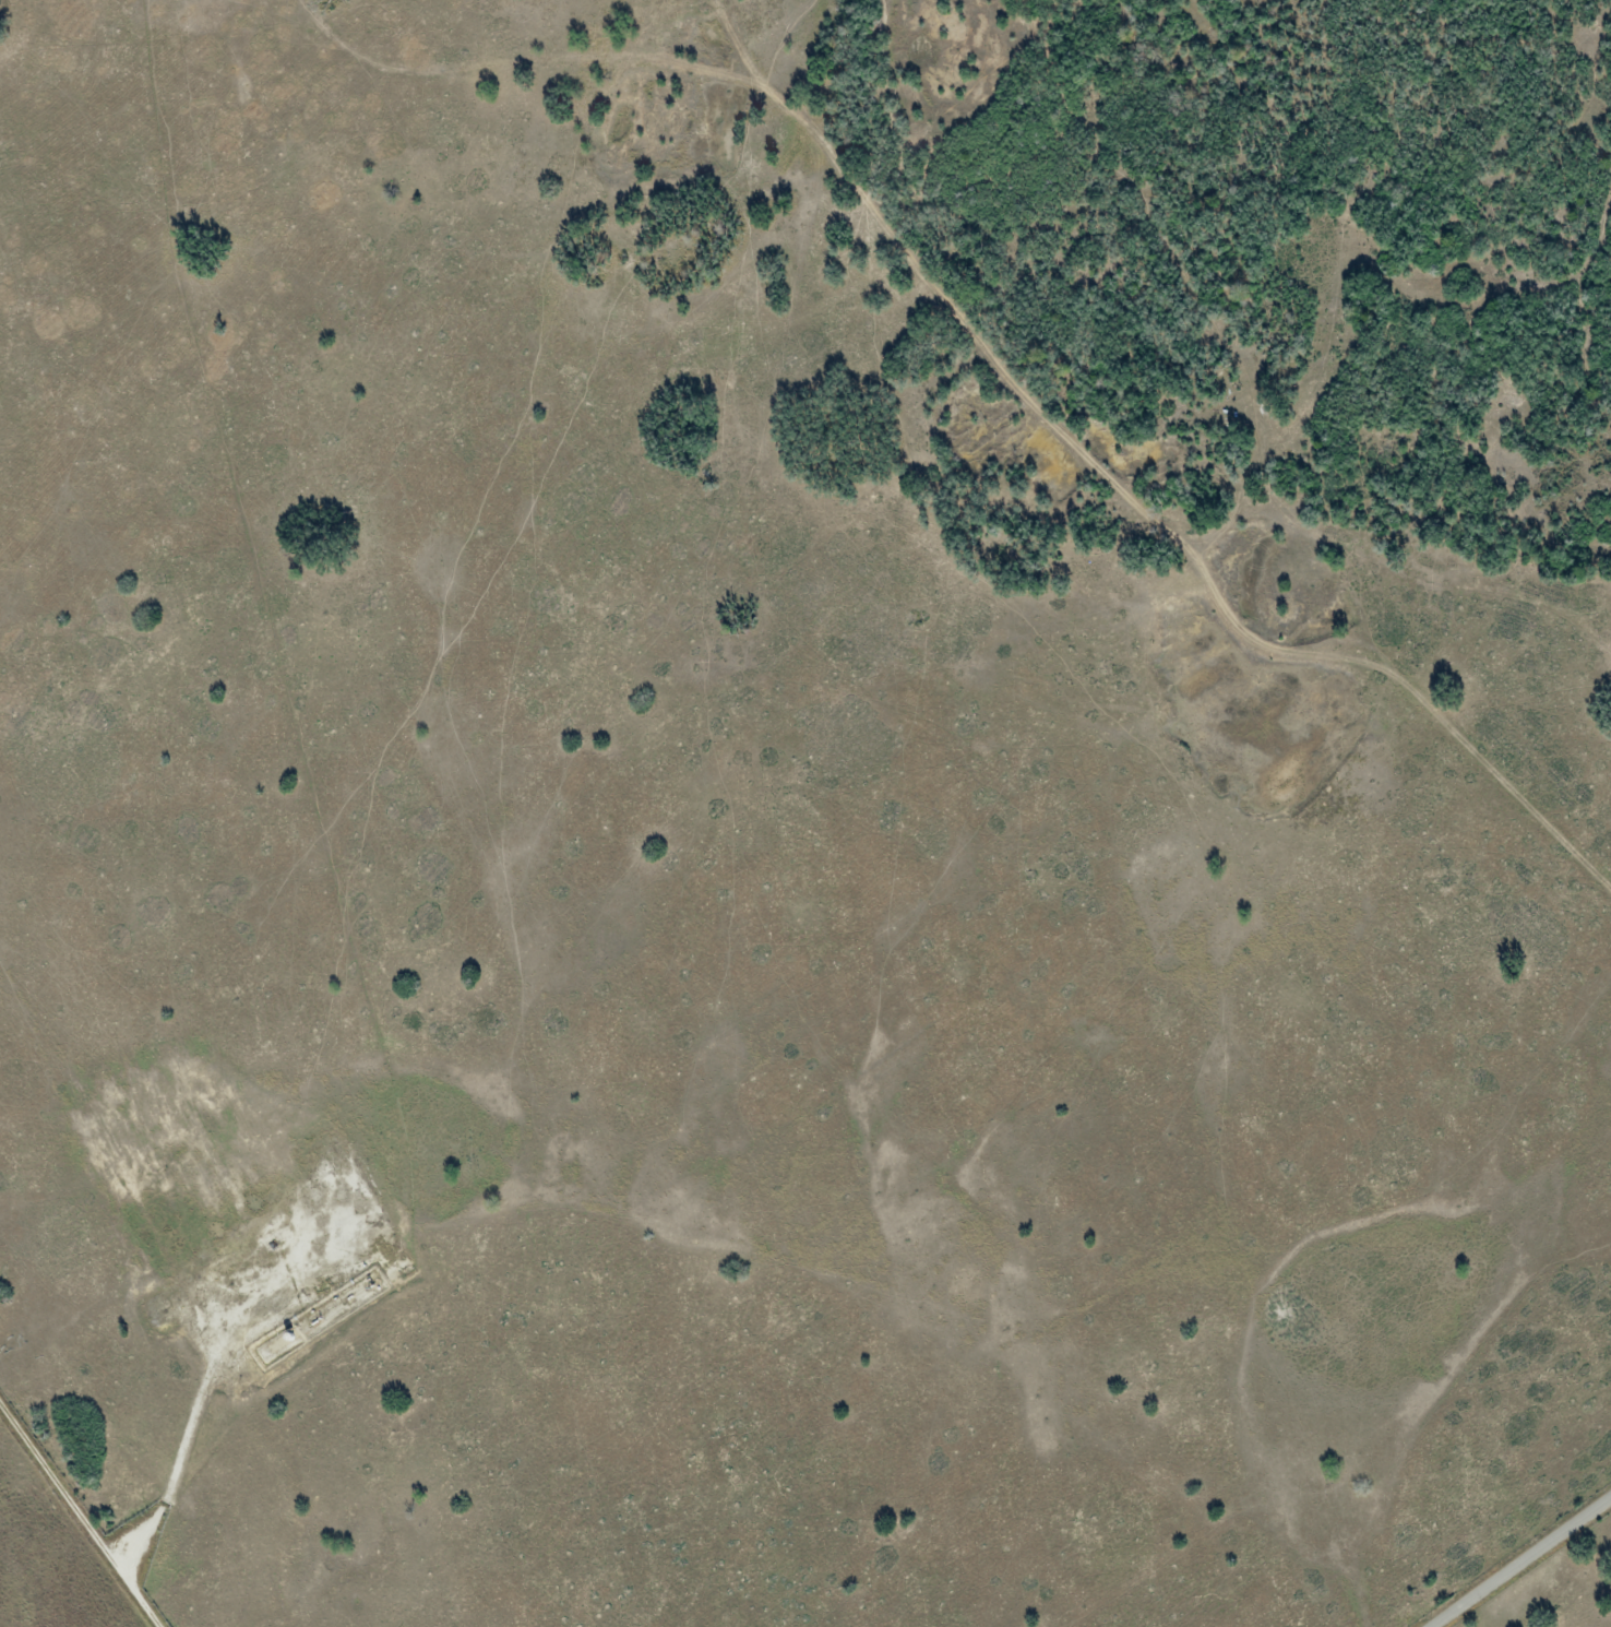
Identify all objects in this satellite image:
road: (84, 1508)
road: (1519, 1560)

